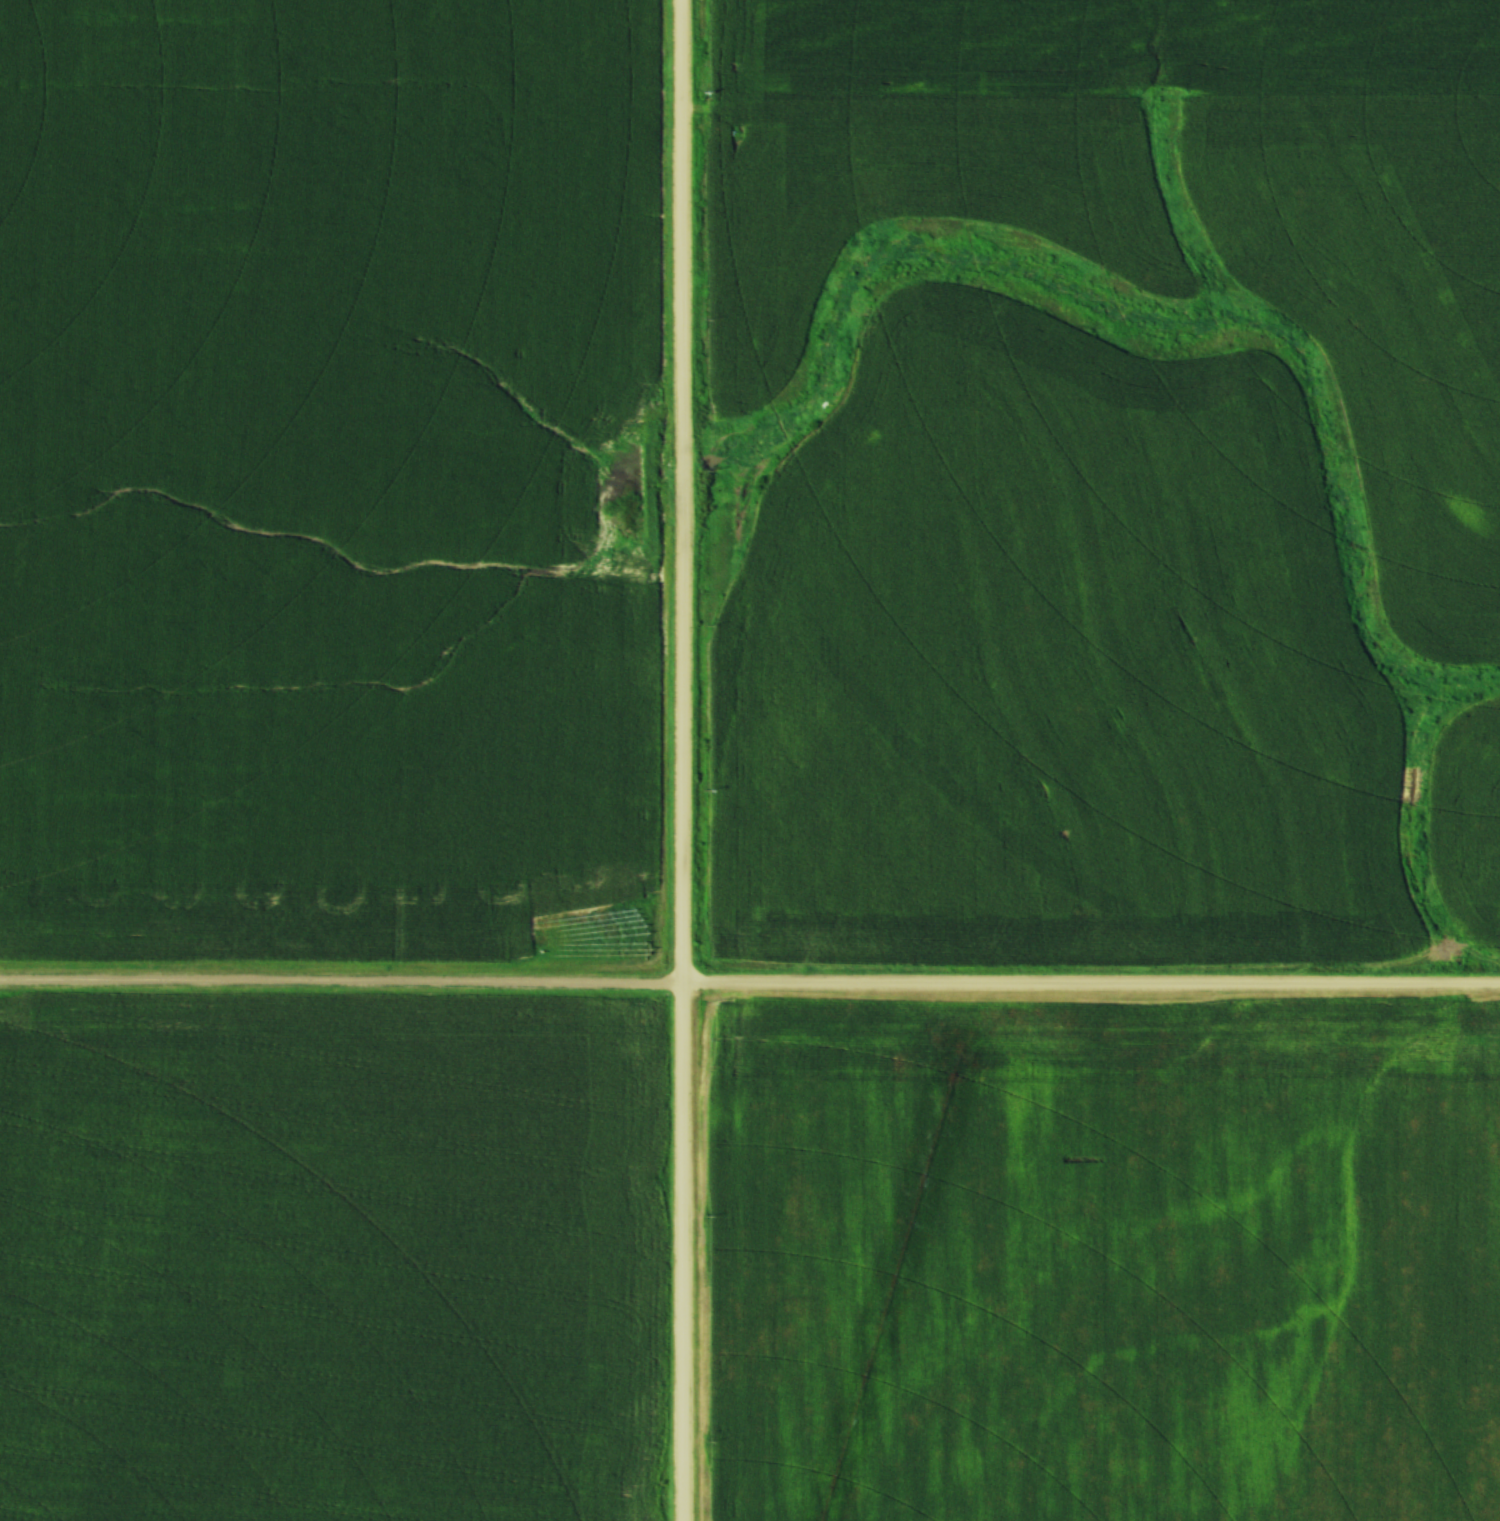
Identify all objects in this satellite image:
road: (683, 760)
road: (749, 980)

